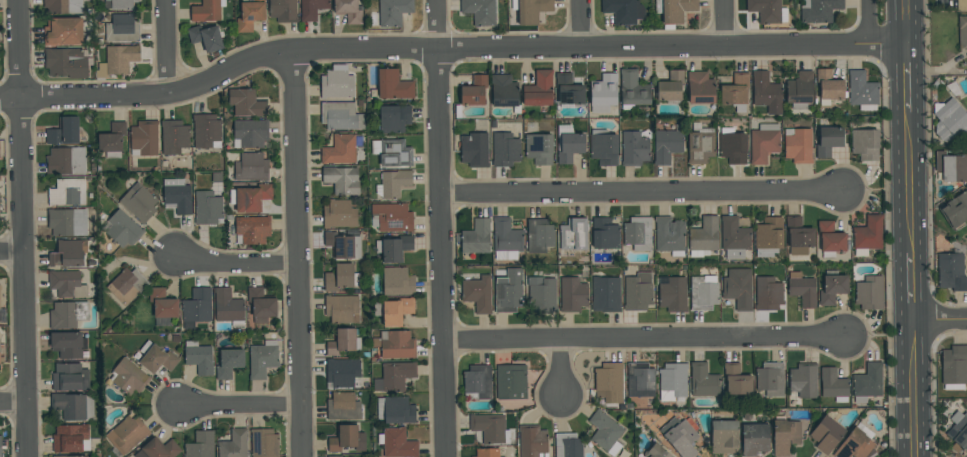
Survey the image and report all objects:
building: (122, 4)
building: (961, 5)
parking lot: (962, 5)
building: (63, 6)
building: (312, 9)
building: (283, 10)
building: (348, 10)
building: (530, 10)
building: (676, 10)
building: (818, 10)
building: (206, 11)
building: (479, 11)
building: (623, 11)
building: (768, 11)
building: (390, 12)
building: (249, 15)
road: (726, 21)
road: (869, 22)
road: (903, 22)
road: (580, 23)
building: (122, 28)
building: (63, 31)
building: (963, 33)
building: (206, 37)
road: (165, 46)
road: (447, 47)
building: (117, 60)
building: (66, 62)
road: (904, 78)
building: (337, 83)
building: (393, 85)
building: (670, 86)
building: (700, 87)
building: (828, 87)
building: (569, 88)
building: (633, 88)
building: (539, 89)
building: (504, 90)
building: (800, 90)
building: (474, 91)
building: (862, 91)
building: (603, 92)
building: (735, 92)
building: (766, 93)
building: (246, 103)
building: (340, 116)
building: (394, 118)
building: (948, 120)
building: (64, 131)
building: (206, 131)
building: (250, 133)
building: (174, 136)
building: (144, 138)
building: (828, 138)
building: (112, 139)
building: (764, 142)
building: (568, 143)
building: (865, 144)
building: (797, 145)
building: (666, 146)
building: (732, 146)
building: (603, 147)
building: (699, 147)
building: (539, 148)
building: (634, 148)
building: (473, 149)
building: (505, 149)
building: (339, 150)
building: (392, 152)
building: (66, 161)
building: (951, 166)
building: (251, 167)
building: (341, 180)
road: (906, 183)
building: (393, 184)
building: (67, 191)
road: (641, 193)
building: (177, 195)
building: (250, 197)
building: (138, 202)
building: (207, 207)
building: (956, 211)
building: (338, 214)
building: (391, 217)
building: (67, 222)
road: (20, 228)
road: (439, 228)
building: (123, 229)
building: (252, 229)
building: (604, 233)
building: (637, 233)
building: (539, 235)
building: (669, 235)
building: (867, 235)
building: (768, 236)
building: (798, 236)
building: (476, 237)
building: (573, 237)
building: (703, 237)
building: (734, 237)
building: (830, 238)
building: (506, 239)
building: (343, 245)
building: (393, 248)
road: (10, 249)
building: (68, 253)
road: (296, 254)
road: (234, 262)
building: (951, 271)
building: (341, 277)
building: (397, 281)
building: (67, 284)
building: (127, 285)
road: (909, 286)
building: (0, 287)
building: (832, 287)
building: (738, 288)
building: (802, 289)
building: (508, 291)
building: (637, 292)
building: (703, 292)
building: (870, 292)
building: (477, 293)
building: (542, 293)
building: (672, 293)
building: (768, 293)
building: (572, 294)
building: (605, 294)
building: (260, 305)
building: (163, 306)
building: (196, 307)
building: (228, 307)
building: (0, 308)
building: (341, 308)
building: (396, 311)
building: (67, 314)
road: (938, 319)
building: (343, 341)
road: (646, 341)
building: (68, 344)
building: (395, 344)
building: (198, 357)
building: (156, 358)
building: (262, 359)
building: (229, 362)
building: (954, 367)
road: (562, 370)
building: (343, 373)
building: (394, 376)
building: (69, 377)
building: (128, 377)
building: (640, 379)
building: (771, 379)
building: (703, 380)
building: (736, 380)
building: (803, 380)
building: (477, 382)
building: (511, 382)
building: (609, 382)
building: (672, 382)
building: (867, 382)
building: (833, 385)
road: (911, 388)
road: (12, 400)
building: (72, 406)
road: (241, 406)
building: (342, 407)
building: (395, 409)
building: (490, 428)
building: (958, 430)
building: (605, 432)
building: (127, 434)
building: (826, 434)
building: (680, 436)
building: (785, 436)
building: (724, 437)
building: (346, 438)
building: (753, 438)
building: (70, 439)
building: (532, 441)
building: (264, 443)
building: (397, 443)
building: (855, 443)
building: (200, 444)
building: (234, 444)
building: (567, 445)
building: (0, 446)
building: (158, 449)
building: (657, 451)
building: (486, 453)
building: (66, 456)
building: (334, 456)

